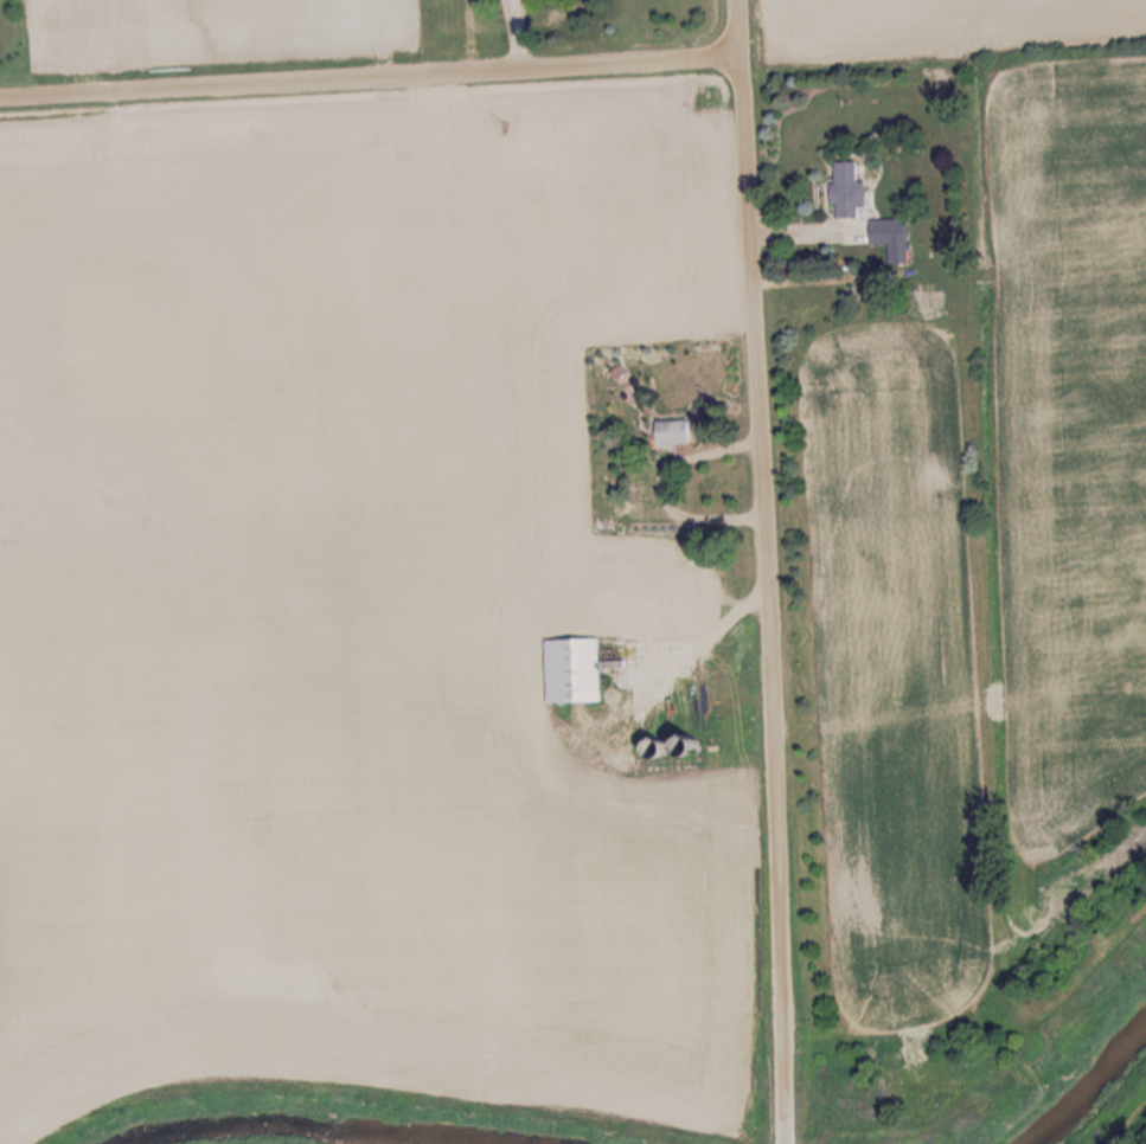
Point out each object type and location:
building: (446, 0)
building: (339, 9)
road: (370, 75)
building: (850, 188)
building: (895, 239)
building: (681, 433)
road: (762, 572)
building: (578, 671)

